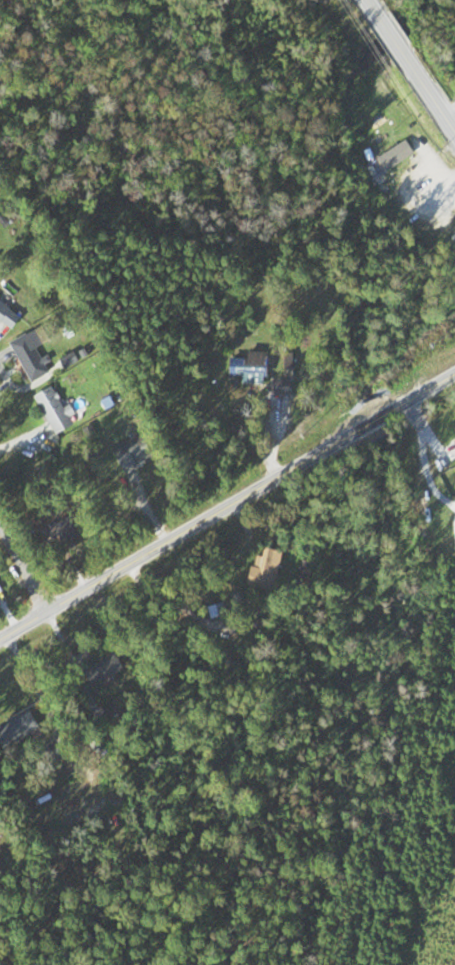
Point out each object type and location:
road: (375, 12)
road: (392, 38)
road: (428, 93)
building: (401, 155)
parking lot: (430, 182)
building: (10, 314)
building: (36, 355)
building: (74, 359)
building: (255, 367)
building: (288, 386)
building: (59, 410)
building: (139, 453)
road: (227, 507)
building: (71, 530)
road: (25, 567)
building: (1, 578)
building: (117, 664)
building: (25, 728)

